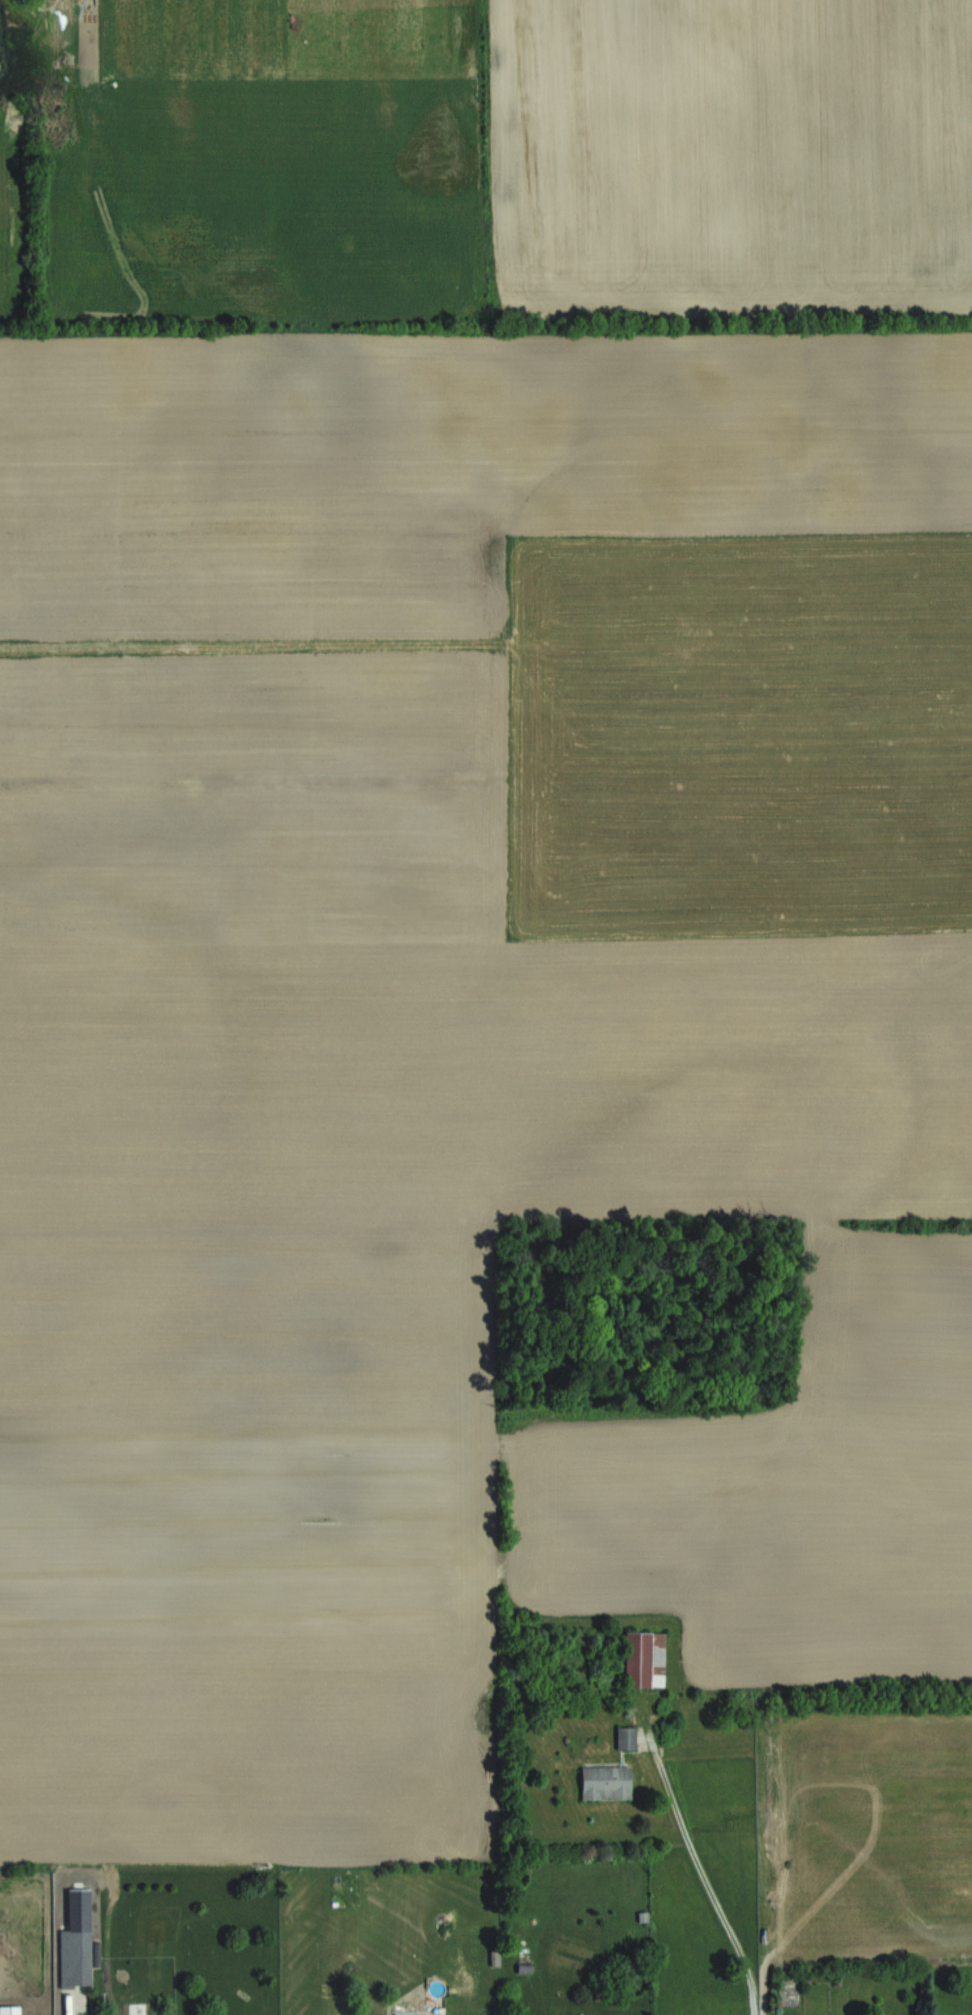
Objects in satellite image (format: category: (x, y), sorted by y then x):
building: (644, 1659)
building: (626, 1736)
building: (605, 1781)
building: (75, 1957)
road: (80, 2008)
building: (9, 2010)

